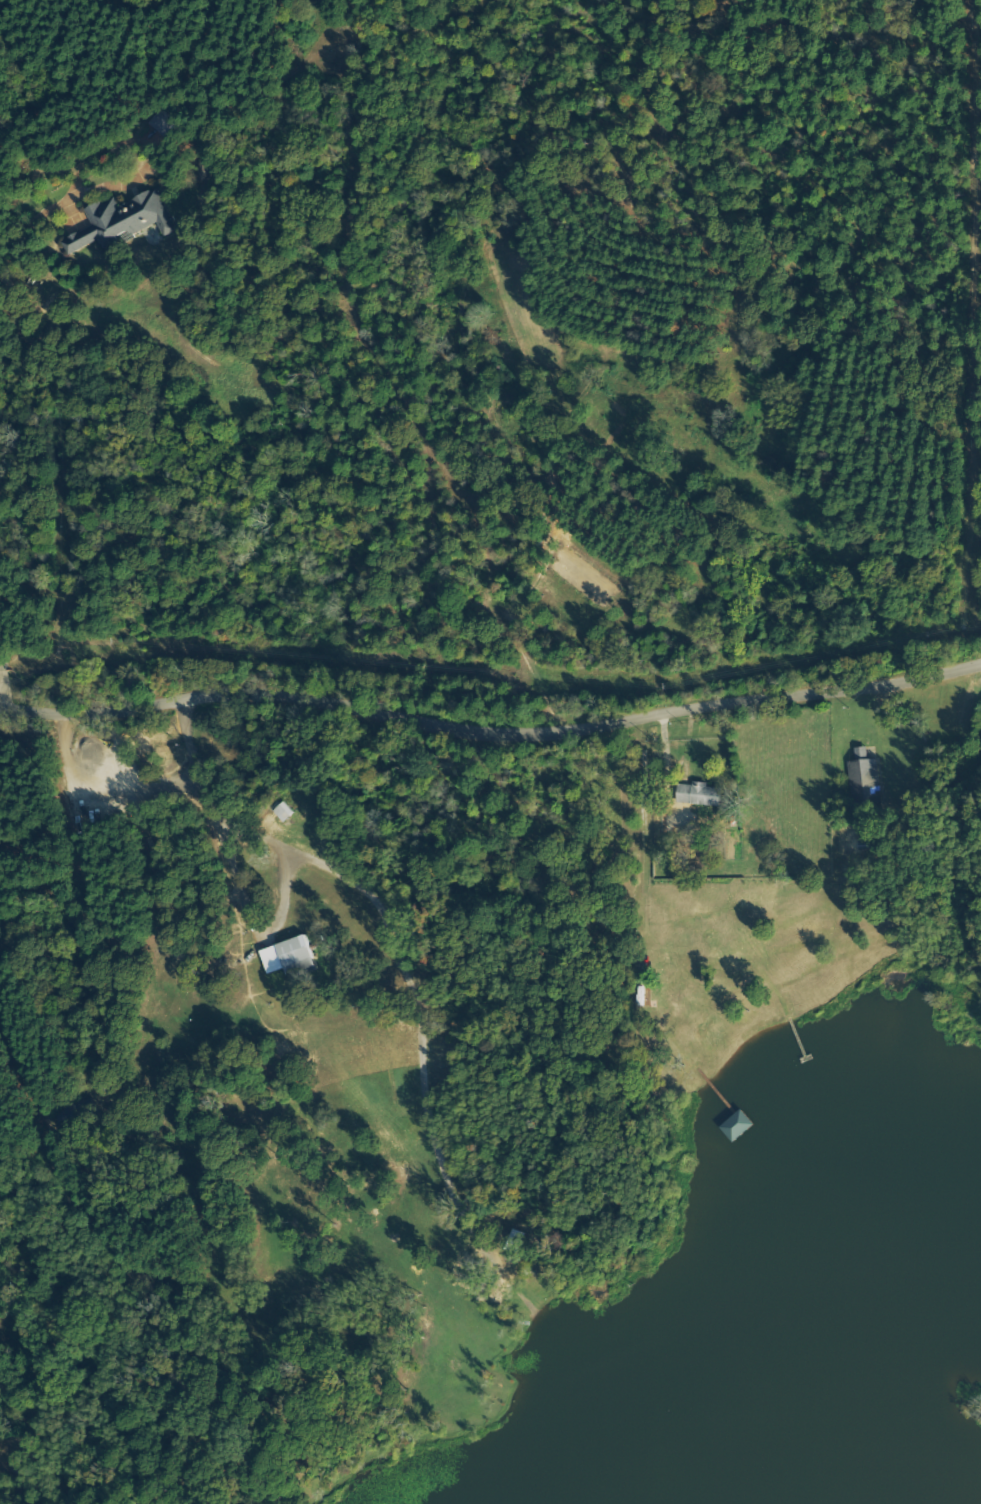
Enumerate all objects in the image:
building: (202, 170)
building: (124, 222)
road: (29, 232)
road: (2, 687)
road: (491, 732)
building: (864, 783)
building: (700, 795)
building: (292, 958)
building: (739, 1127)
building: (513, 1241)

